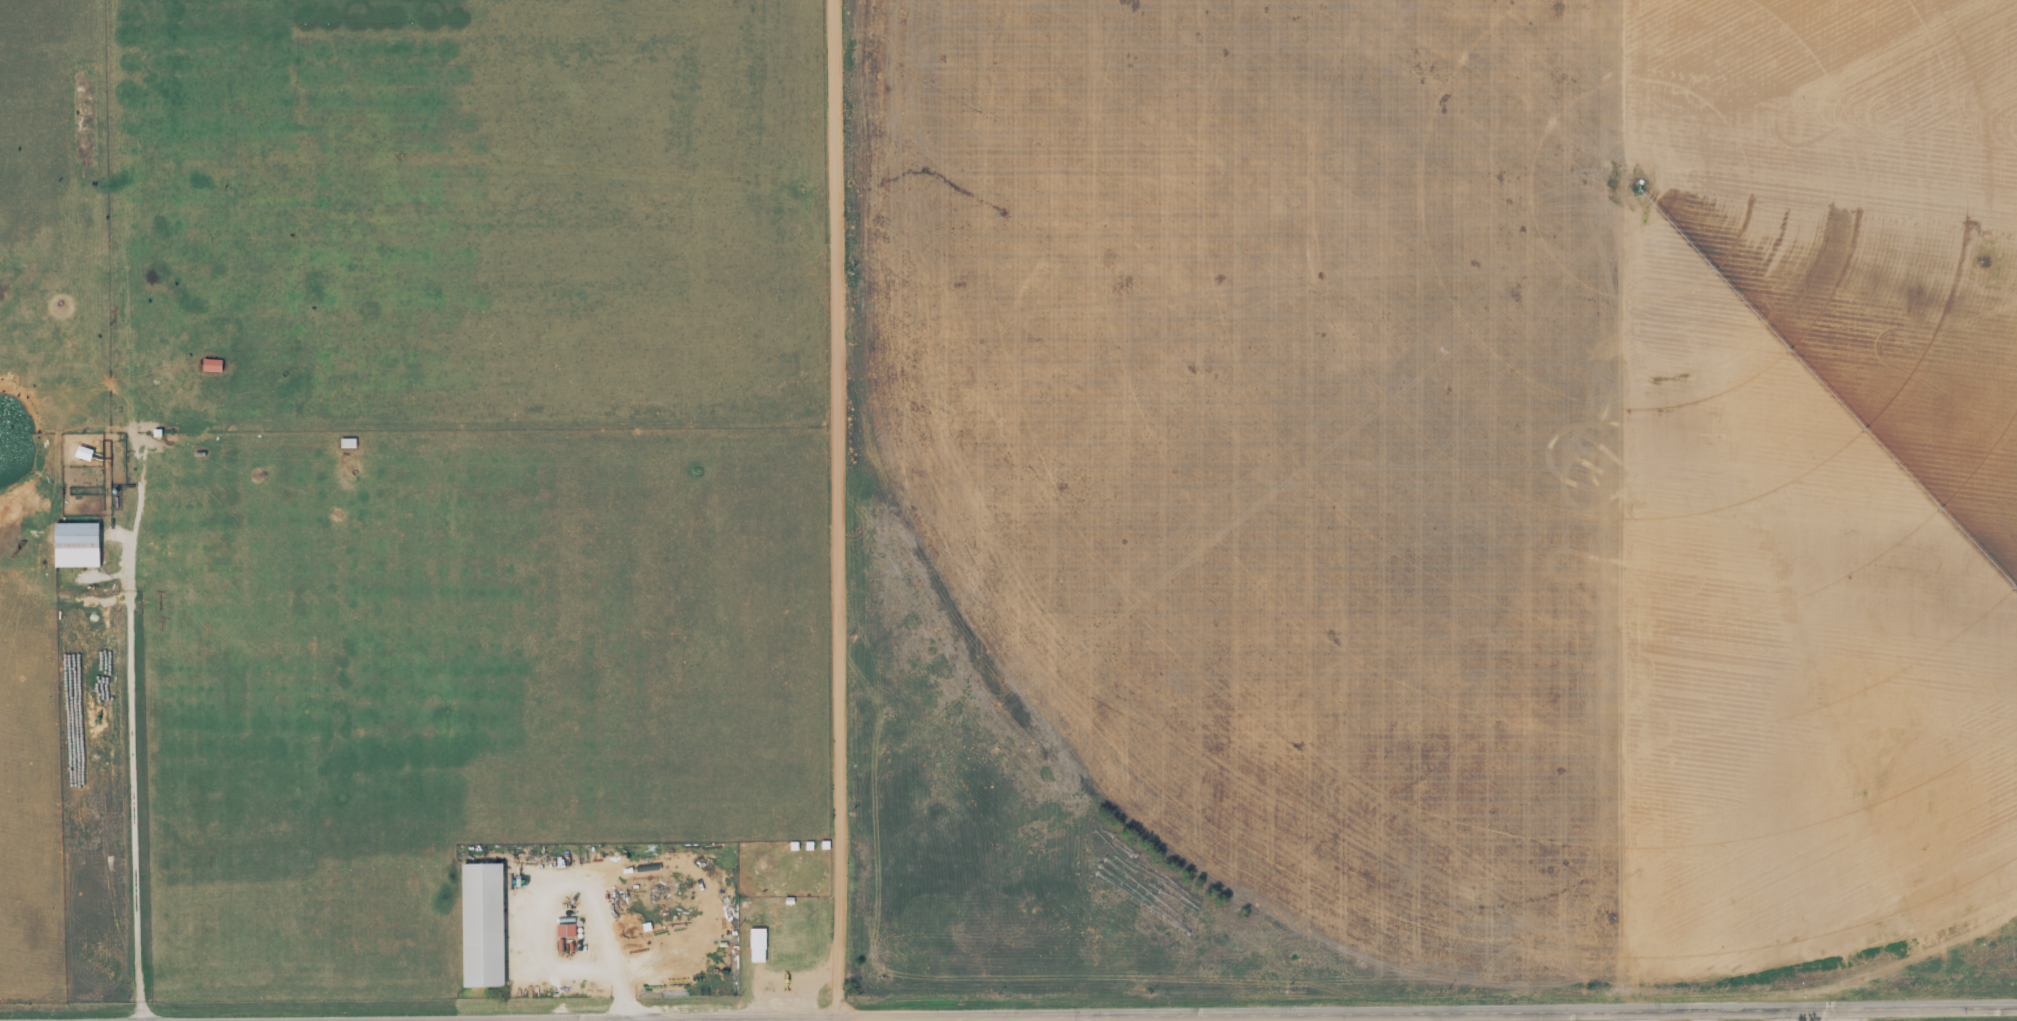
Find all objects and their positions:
building: (344, 443)
road: (838, 510)
building: (71, 545)
building: (476, 925)
building: (754, 945)
road: (1597, 1014)
road: (1864, 1016)

